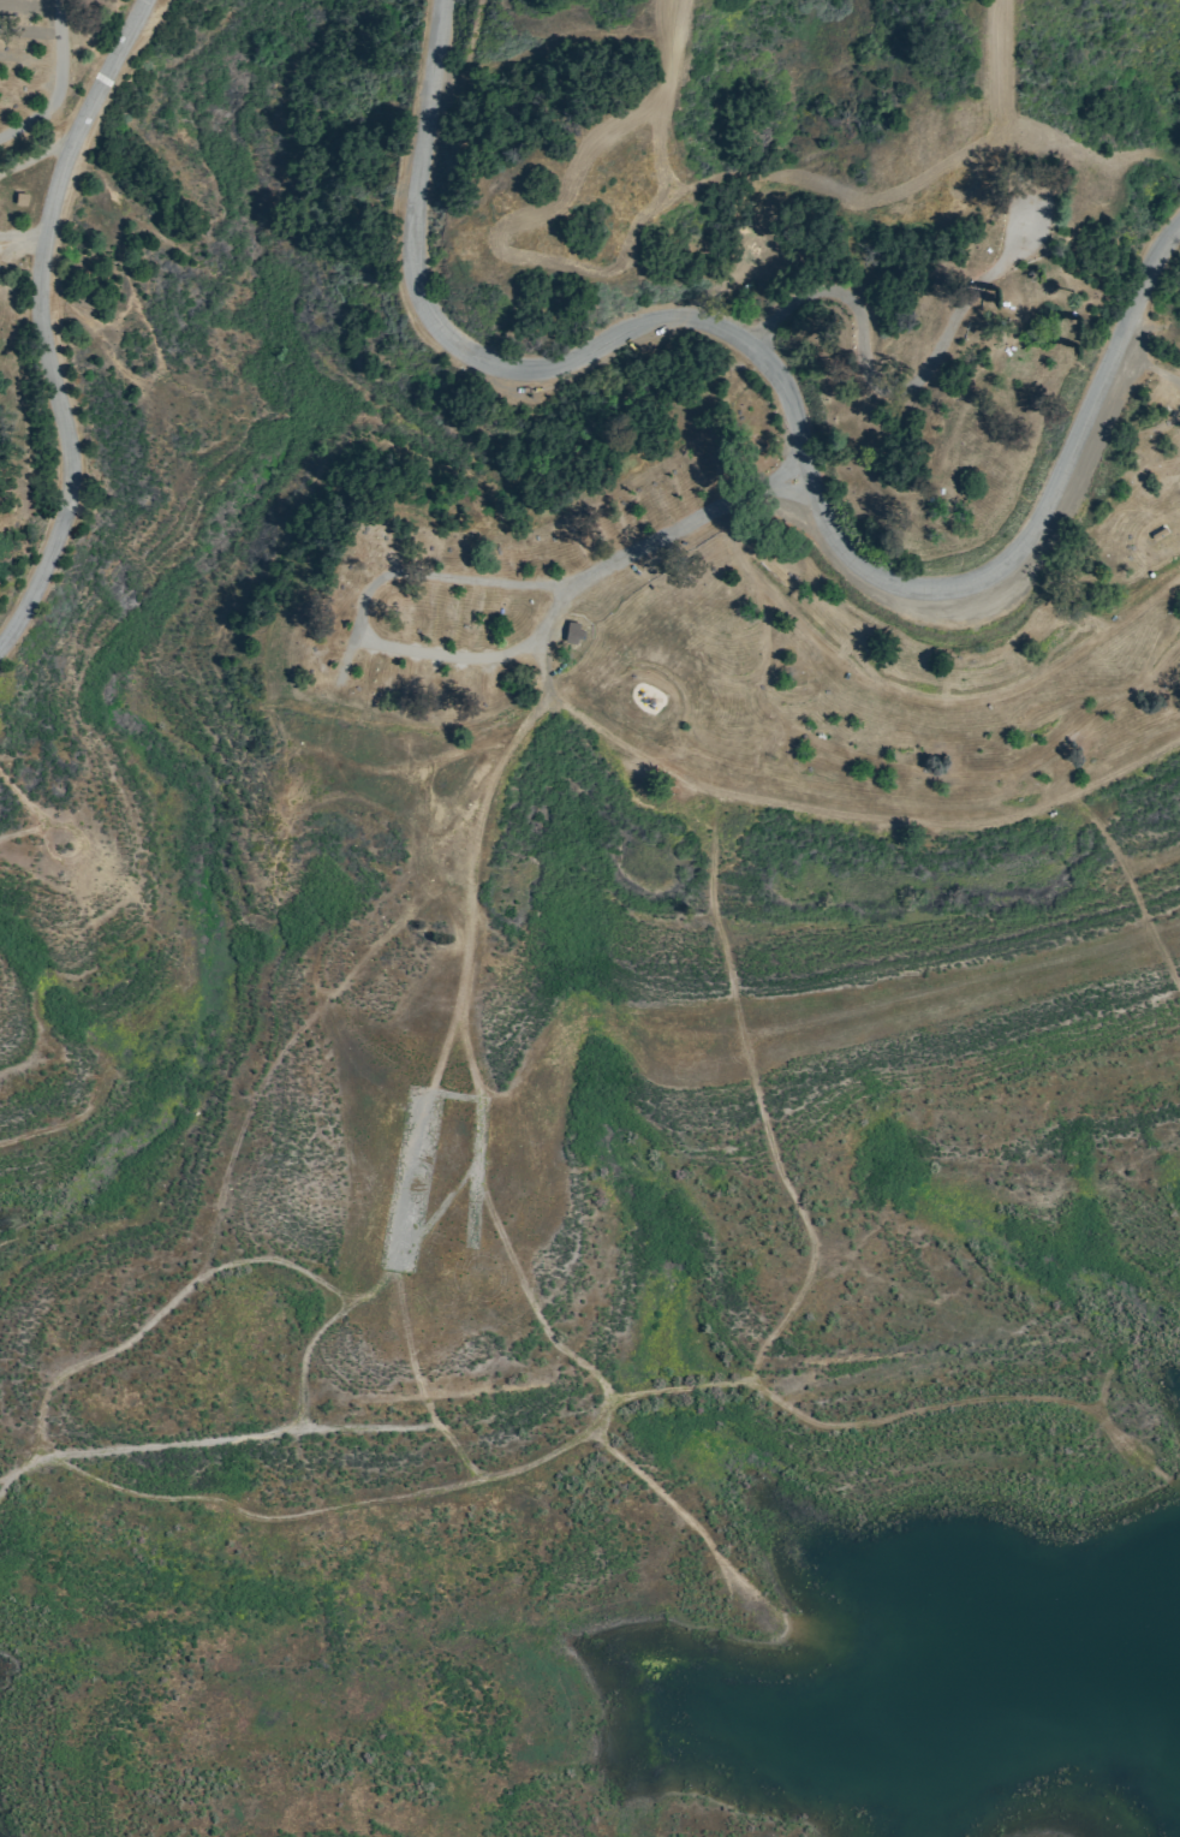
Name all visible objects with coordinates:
road: (58, 83)
road: (34, 156)
road: (584, 156)
building: (18, 198)
road: (20, 240)
road: (42, 317)
road: (1150, 367)
road: (888, 380)
road: (792, 394)
road: (684, 524)
building: (1157, 534)
road: (1140, 537)
road: (362, 610)
road: (356, 630)
building: (570, 632)
road: (345, 665)
road: (922, 697)
road: (858, 819)
park: (566, 846)
road: (471, 861)
road: (469, 1058)
road: (475, 1171)
road: (410, 1179)

